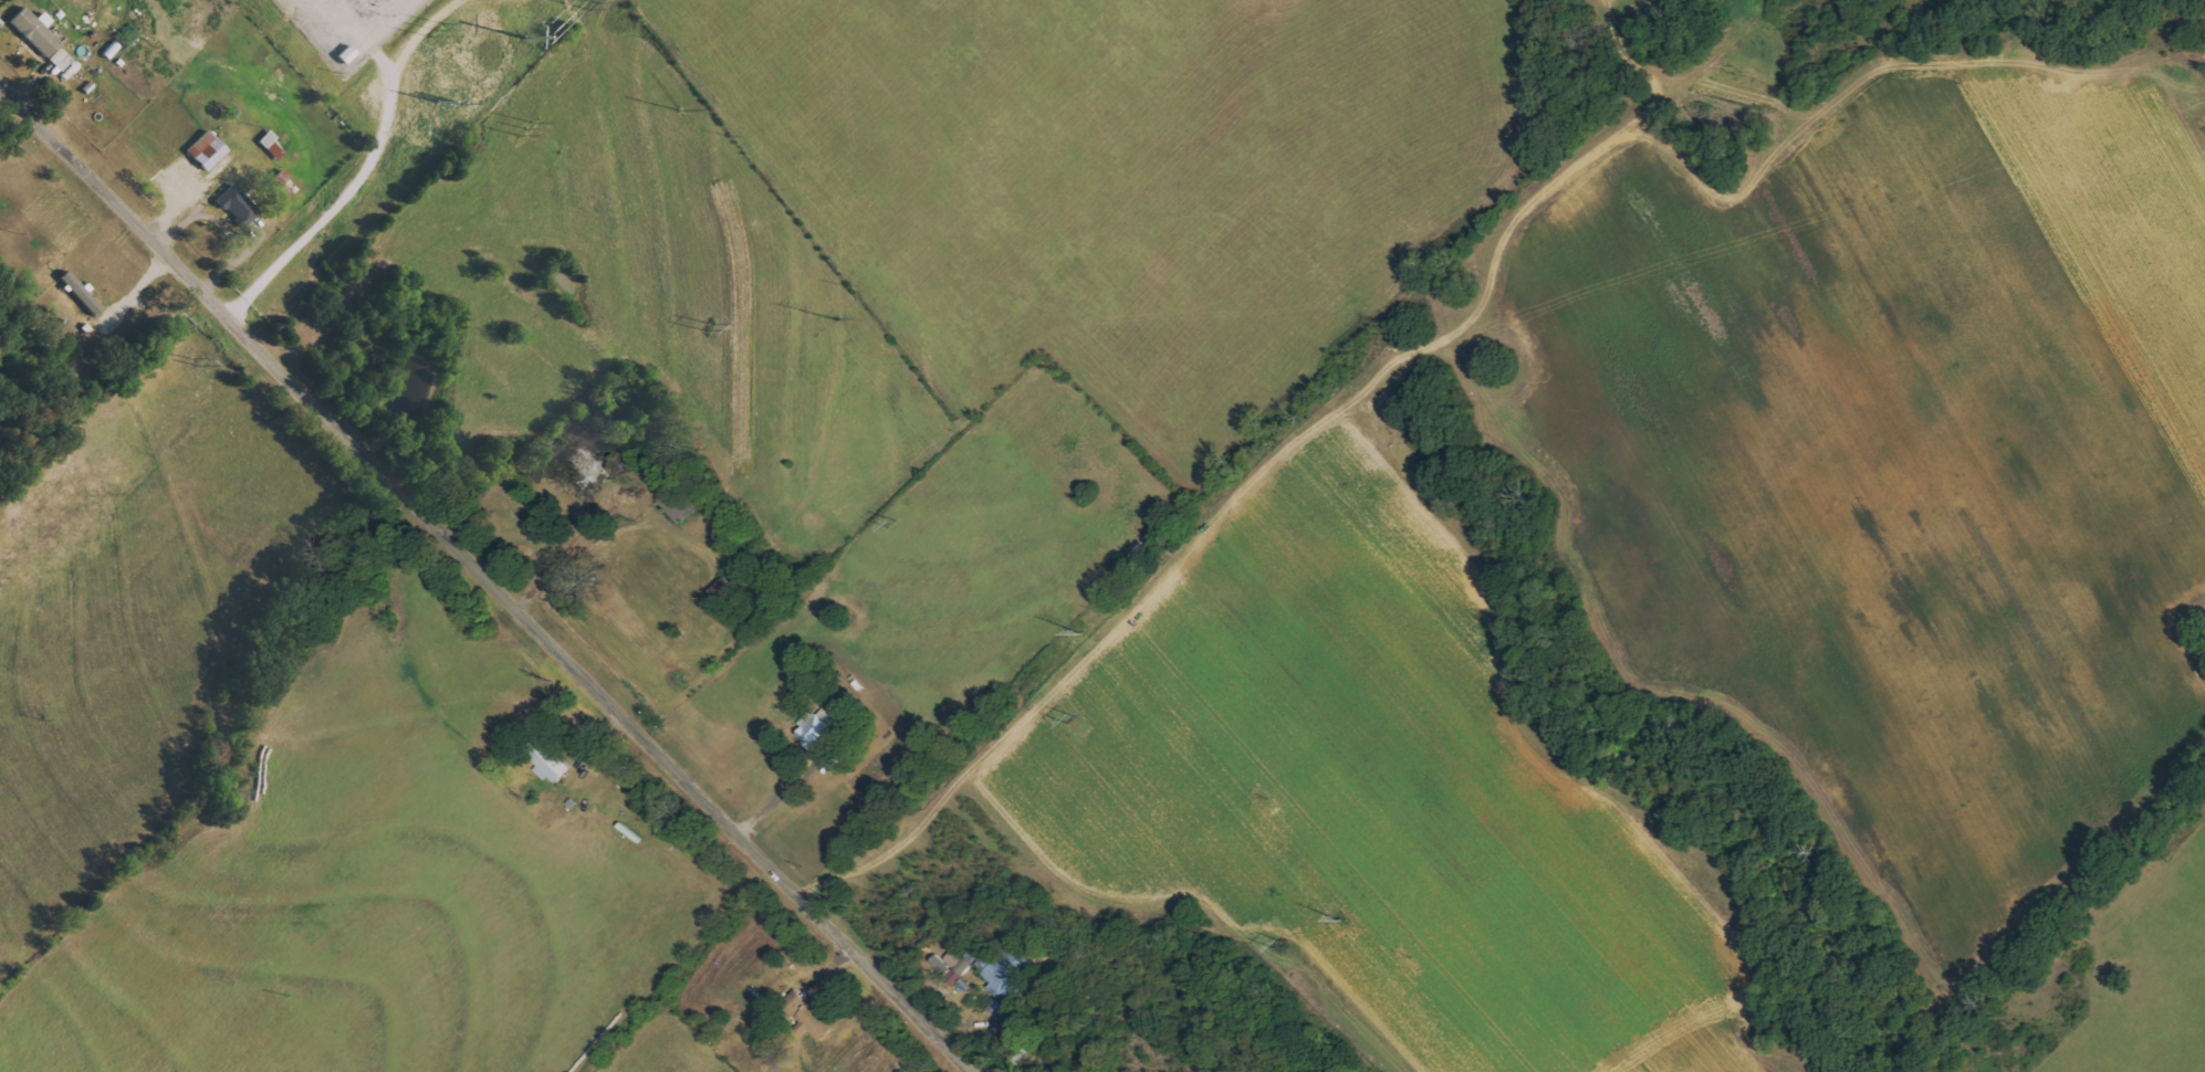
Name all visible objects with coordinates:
power tower: (595, 3)
power substation: (348, 25)
building: (36, 31)
building: (62, 59)
power tower: (521, 126)
building: (208, 150)
building: (239, 206)
road: (322, 217)
building: (82, 293)
power tower: (834, 317)
power tower: (707, 324)
road: (1255, 470)
building: (679, 505)
power tower: (888, 524)
road: (478, 586)
power tower: (1078, 633)
power tower: (1066, 721)
building: (817, 727)
building: (552, 765)
power tower: (1340, 922)
power tower: (1275, 945)
building: (955, 968)
building: (1003, 974)
building: (996, 1007)
building: (808, 1016)
building: (1023, 1052)

